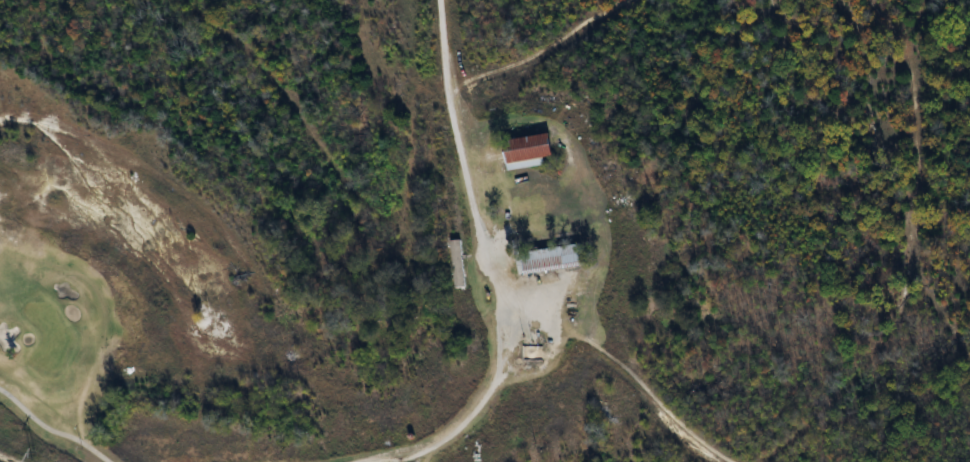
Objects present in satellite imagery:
building: (531, 147)
building: (556, 259)
building: (460, 263)
road: (494, 292)
road: (620, 364)
road: (51, 430)

